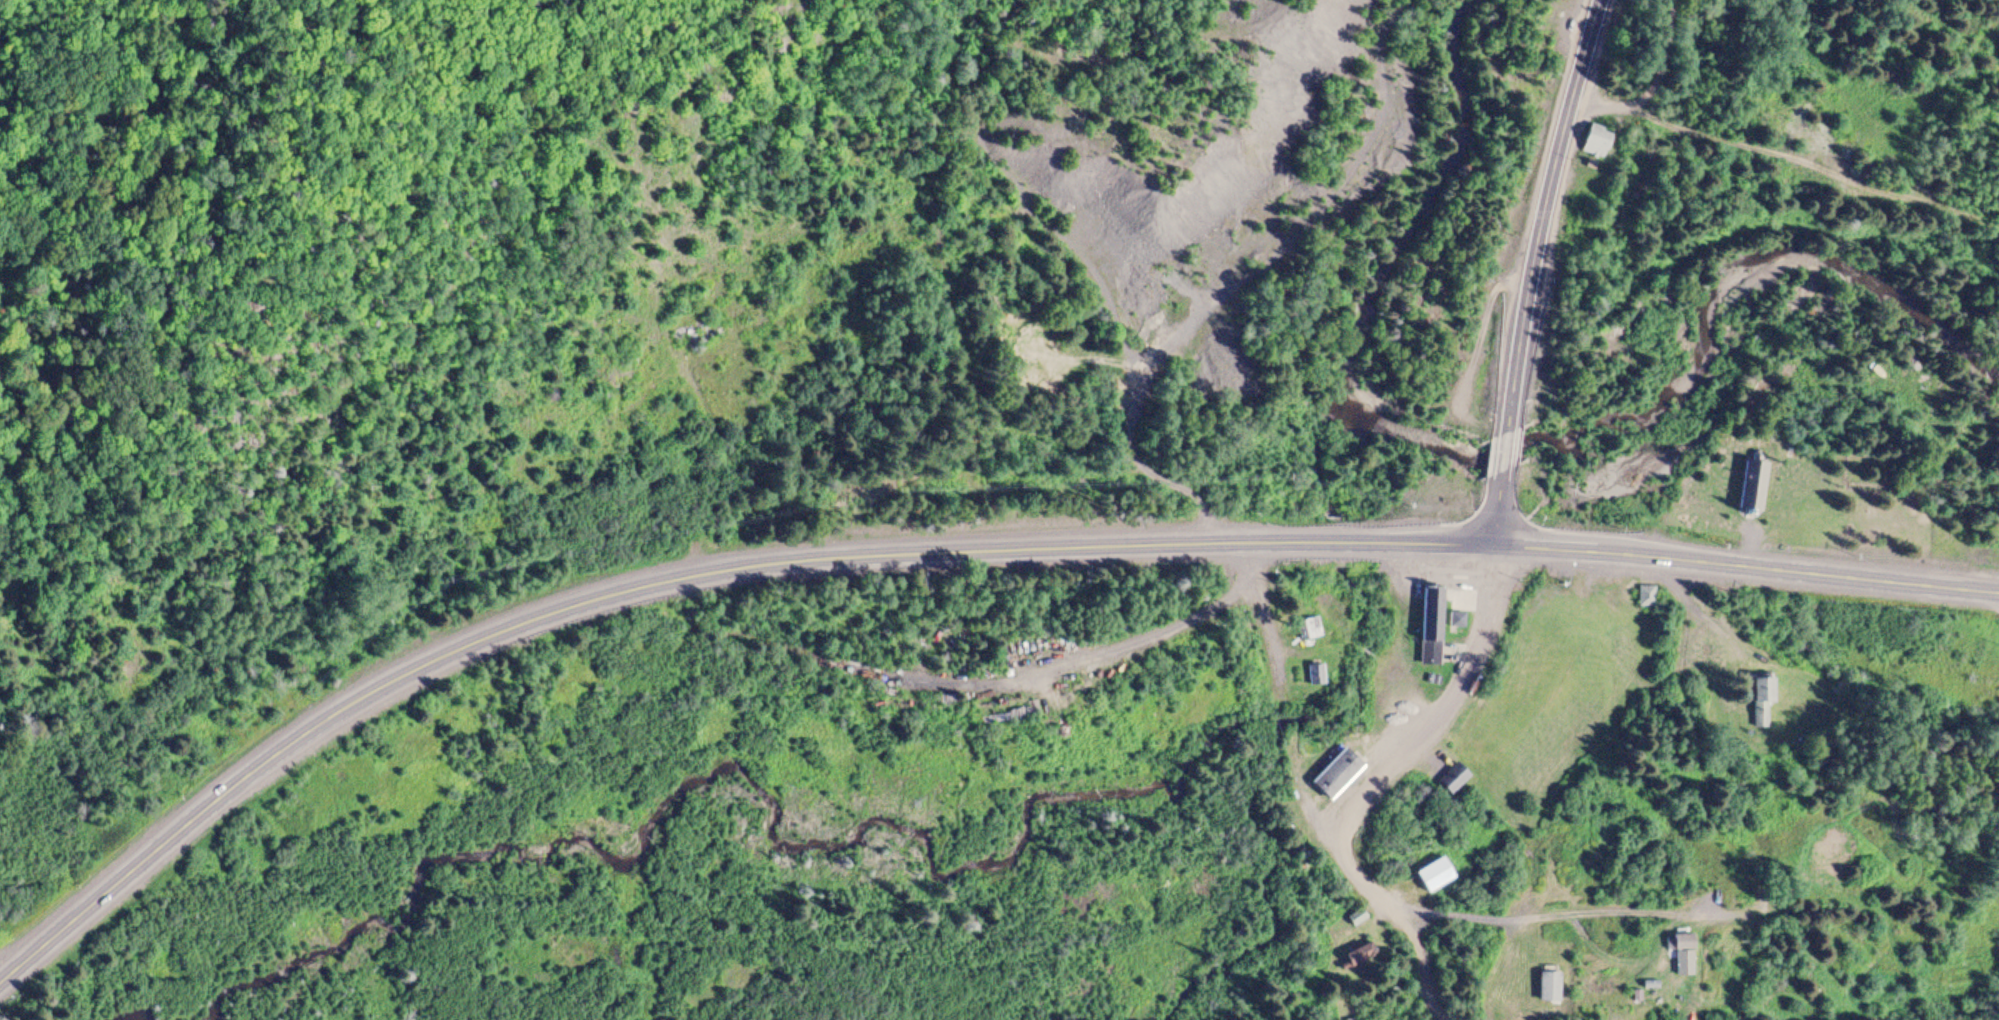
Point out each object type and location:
building: (1594, 142)
road: (1785, 165)
river: (1432, 207)
road: (1543, 214)
river: (1659, 377)
road: (707, 448)
road: (1503, 457)
river: (1328, 461)
building: (1749, 481)
road: (1497, 513)
river: (1333, 541)
road: (1747, 564)
road: (686, 574)
building: (1642, 595)
building: (1457, 619)
building: (1427, 623)
road: (1261, 627)
building: (1308, 629)
road: (1396, 648)
road: (1361, 651)
road: (1103, 652)
road: (798, 653)
building: (1316, 674)
building: (1761, 698)
road: (1437, 710)
building: (1333, 772)
building: (1449, 777)
road: (1311, 816)
river: (1024, 864)
building: (1433, 874)
road: (1358, 881)
road: (1756, 908)
river: (426, 925)
building: (1684, 942)
road: (1408, 964)
building: (1547, 985)

